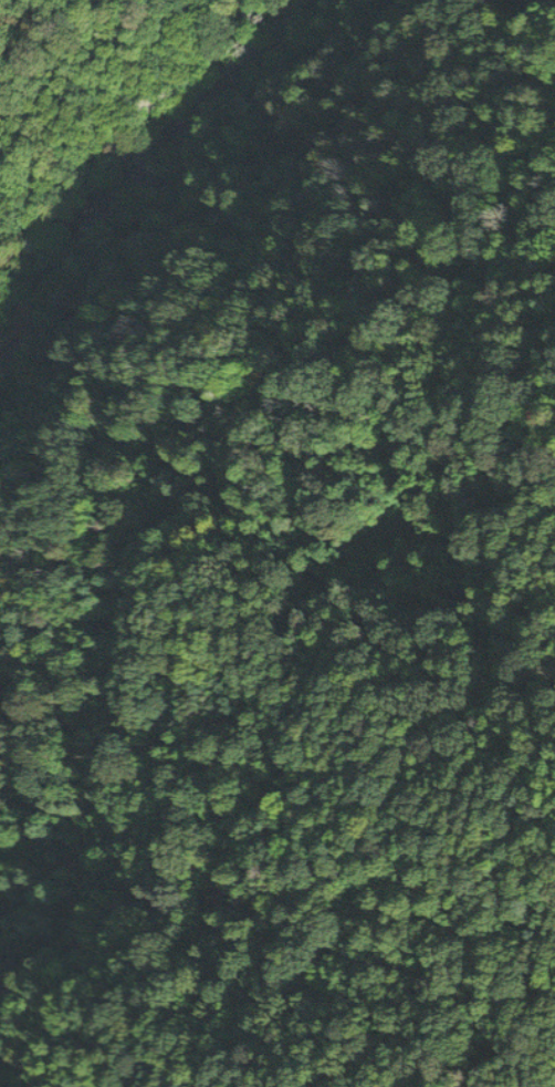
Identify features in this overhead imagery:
road: (186, 201)
road: (189, 505)

